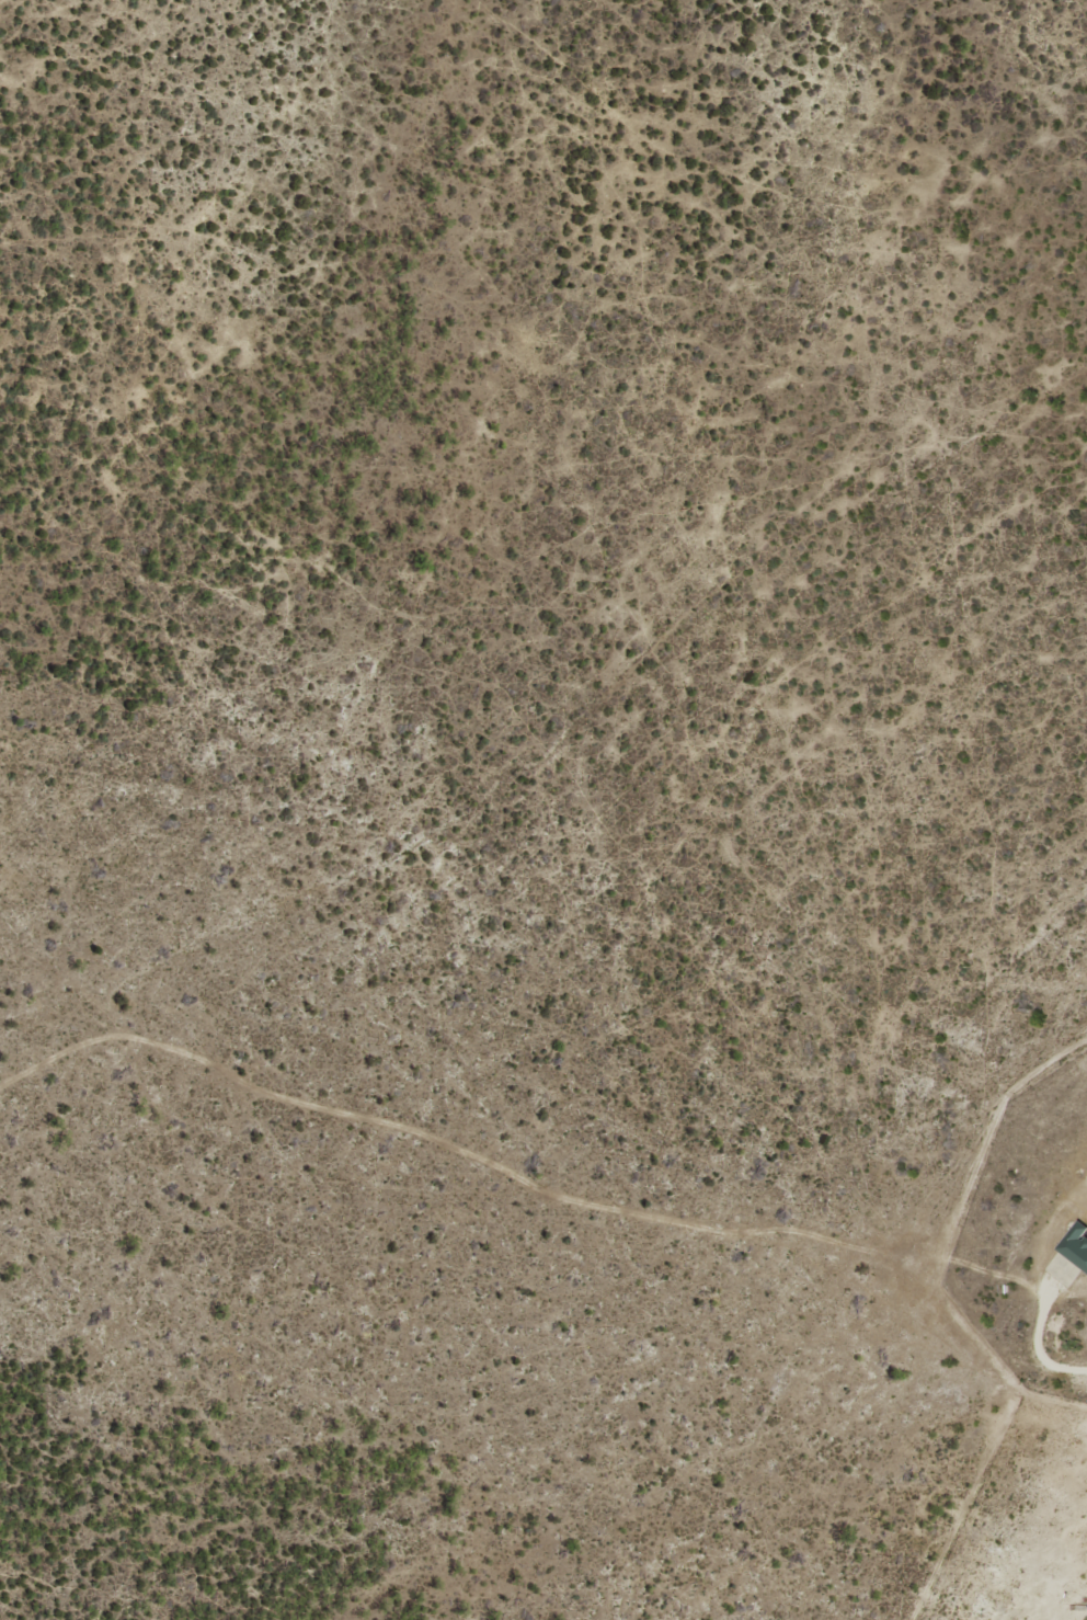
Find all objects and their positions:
building: (1075, 1244)
road: (1033, 1338)

